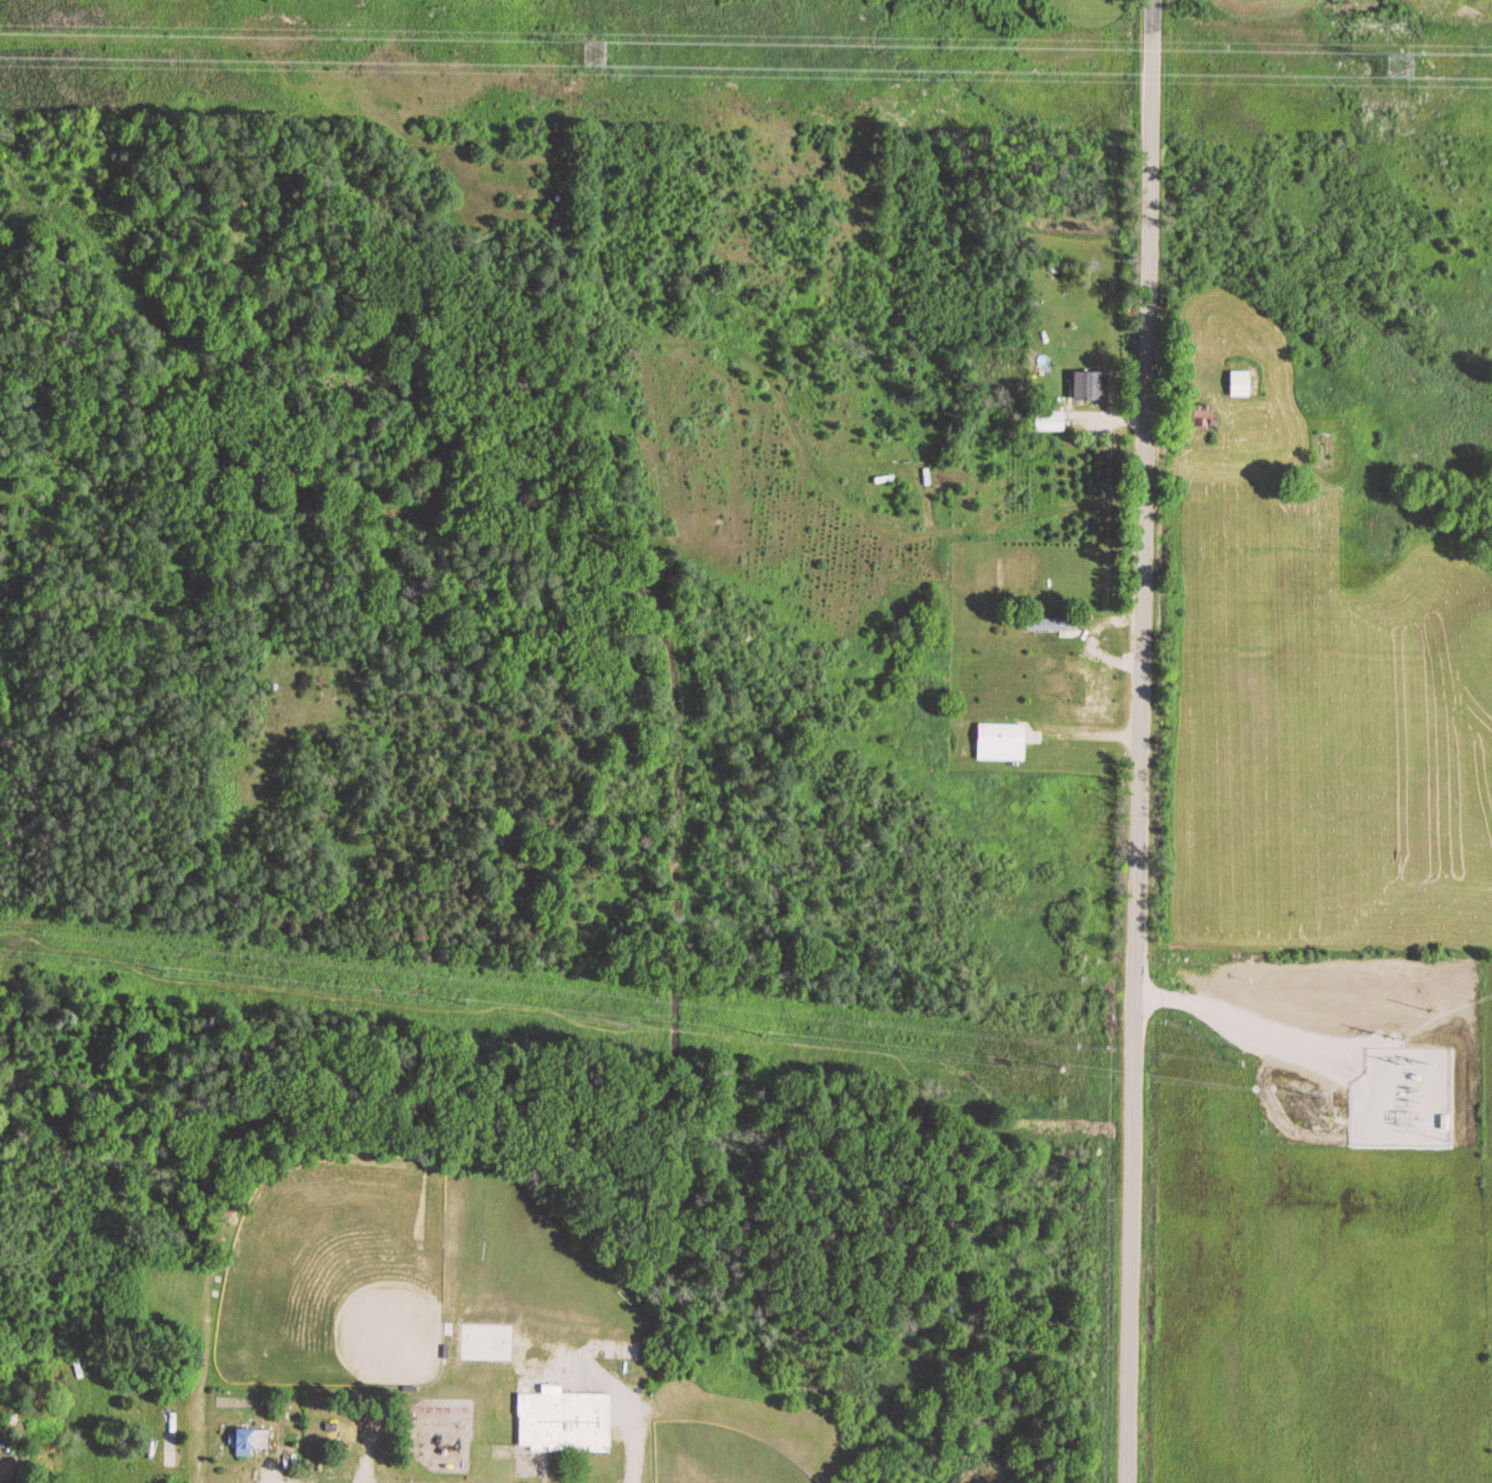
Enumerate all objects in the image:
road: (1152, 1)
power tower: (593, 49)
power tower: (1395, 58)
building: (1247, 383)
building: (1090, 386)
building: (1052, 421)
building: (1052, 623)
building: (1005, 742)
road: (1141, 742)
power substation: (1288, 1000)
park: (338, 1276)
building: (561, 1356)
building: (532, 1368)
building: (507, 1415)
building: (568, 1421)
building: (171, 1438)
building: (249, 1440)
park: (718, 1456)
building: (11, 1466)

